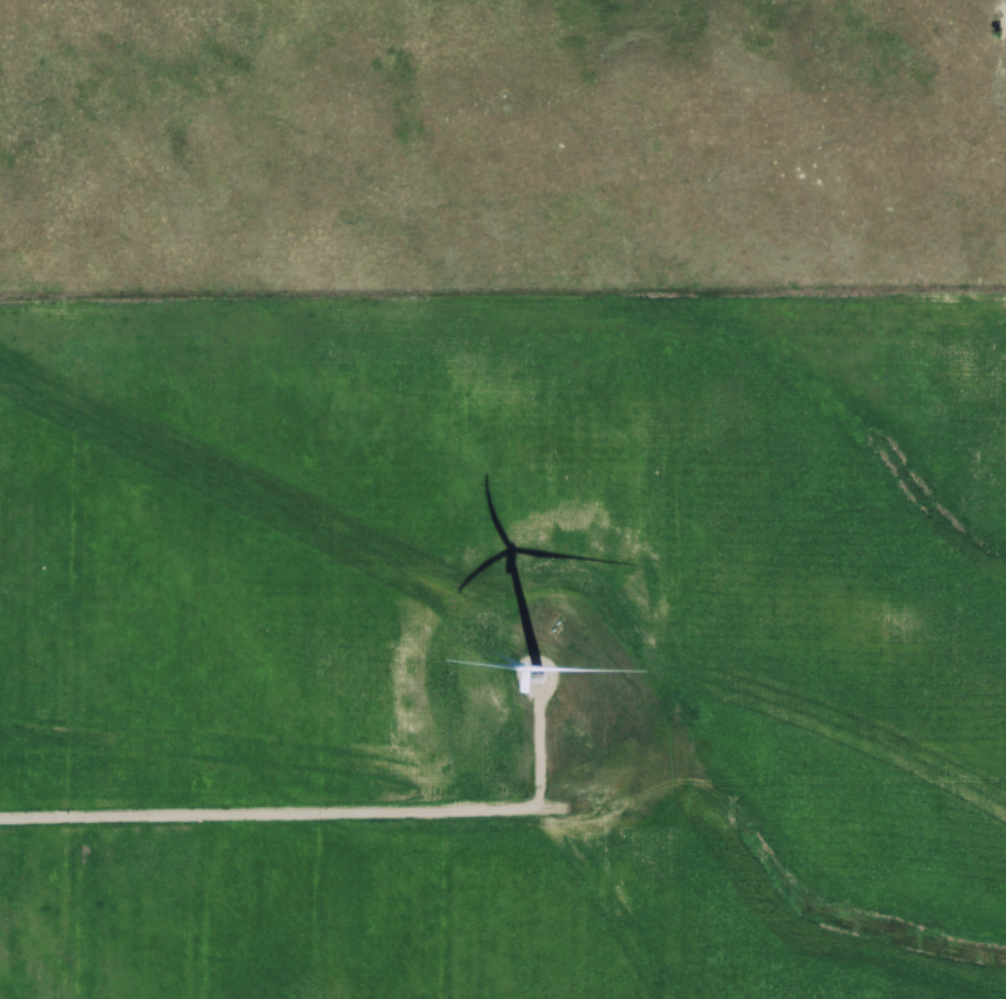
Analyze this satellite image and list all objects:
wind turbine: (536, 673)

